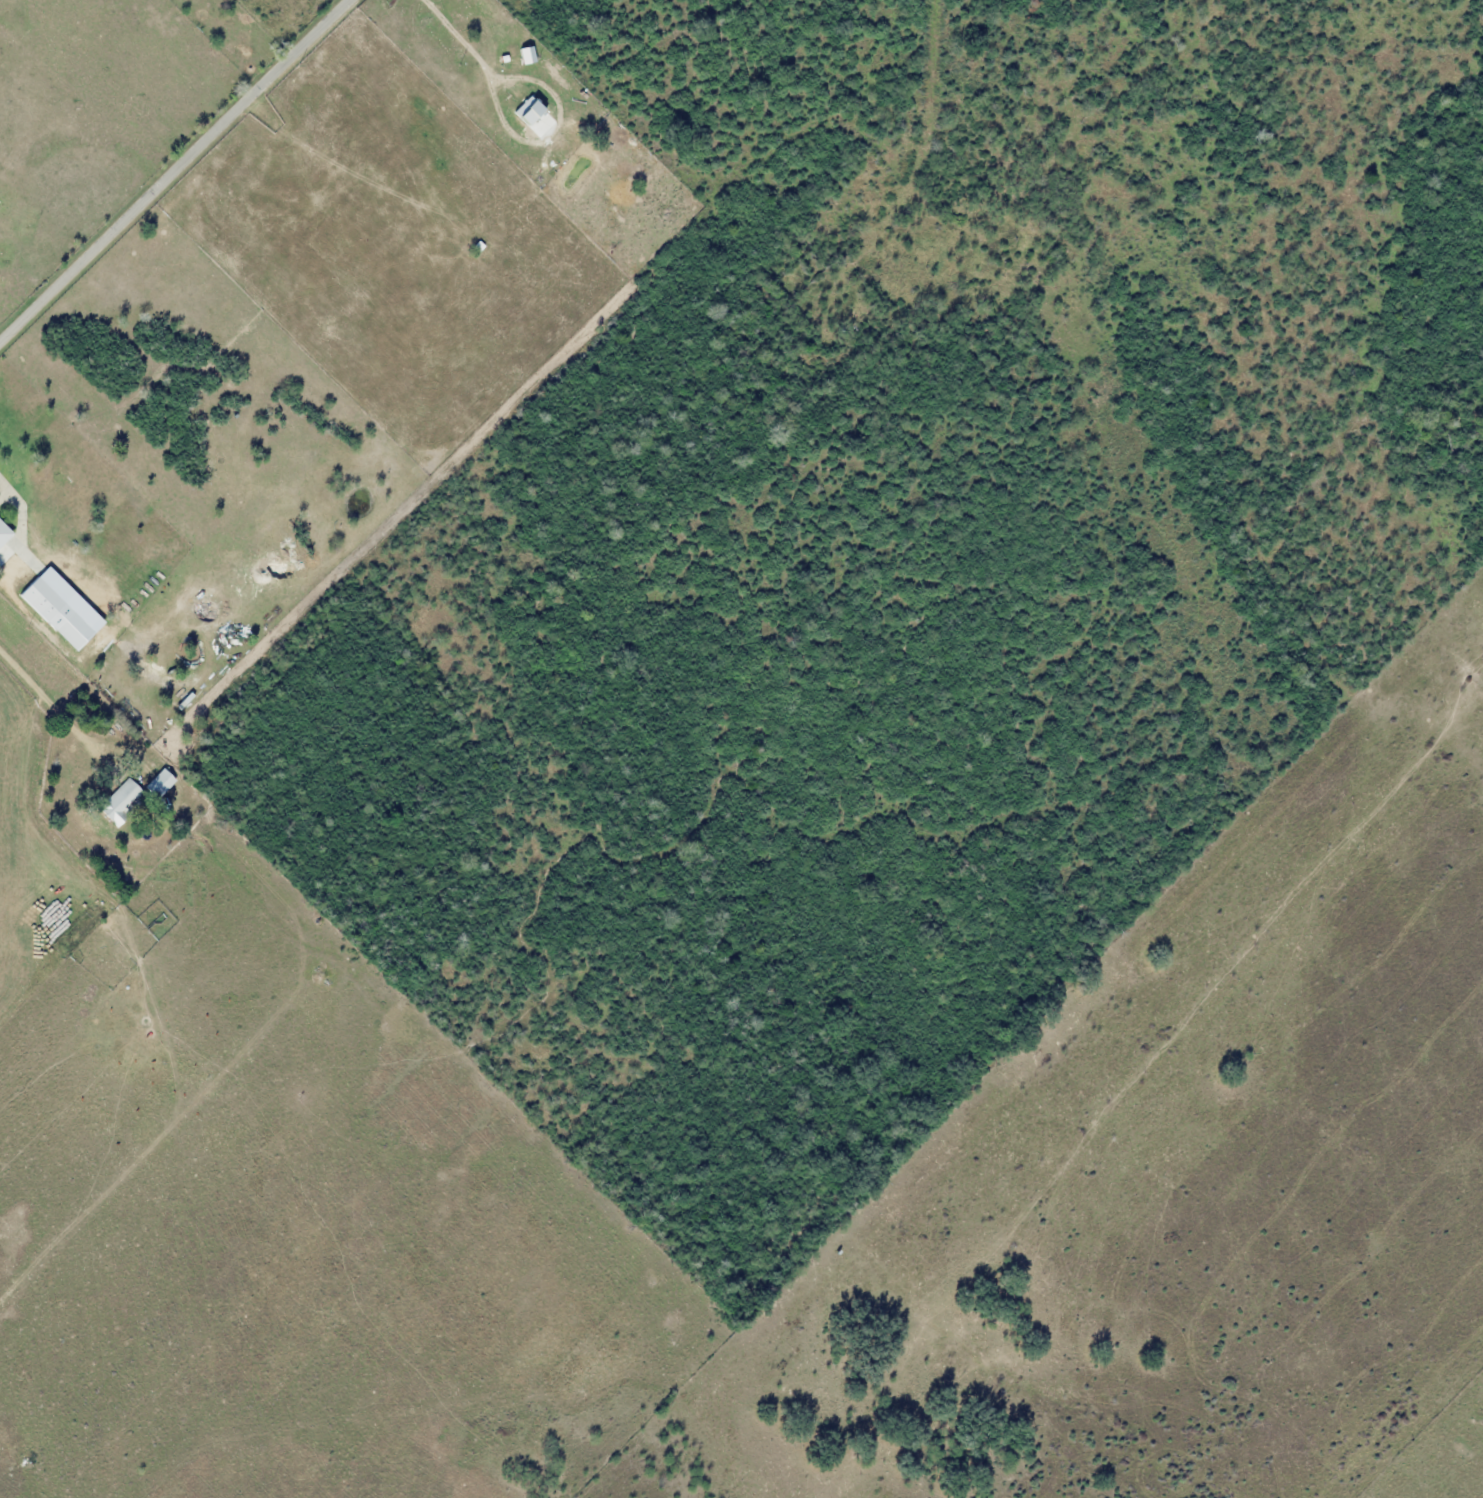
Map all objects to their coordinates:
road: (174, 170)
building: (4, 534)
building: (158, 783)
building: (118, 802)

